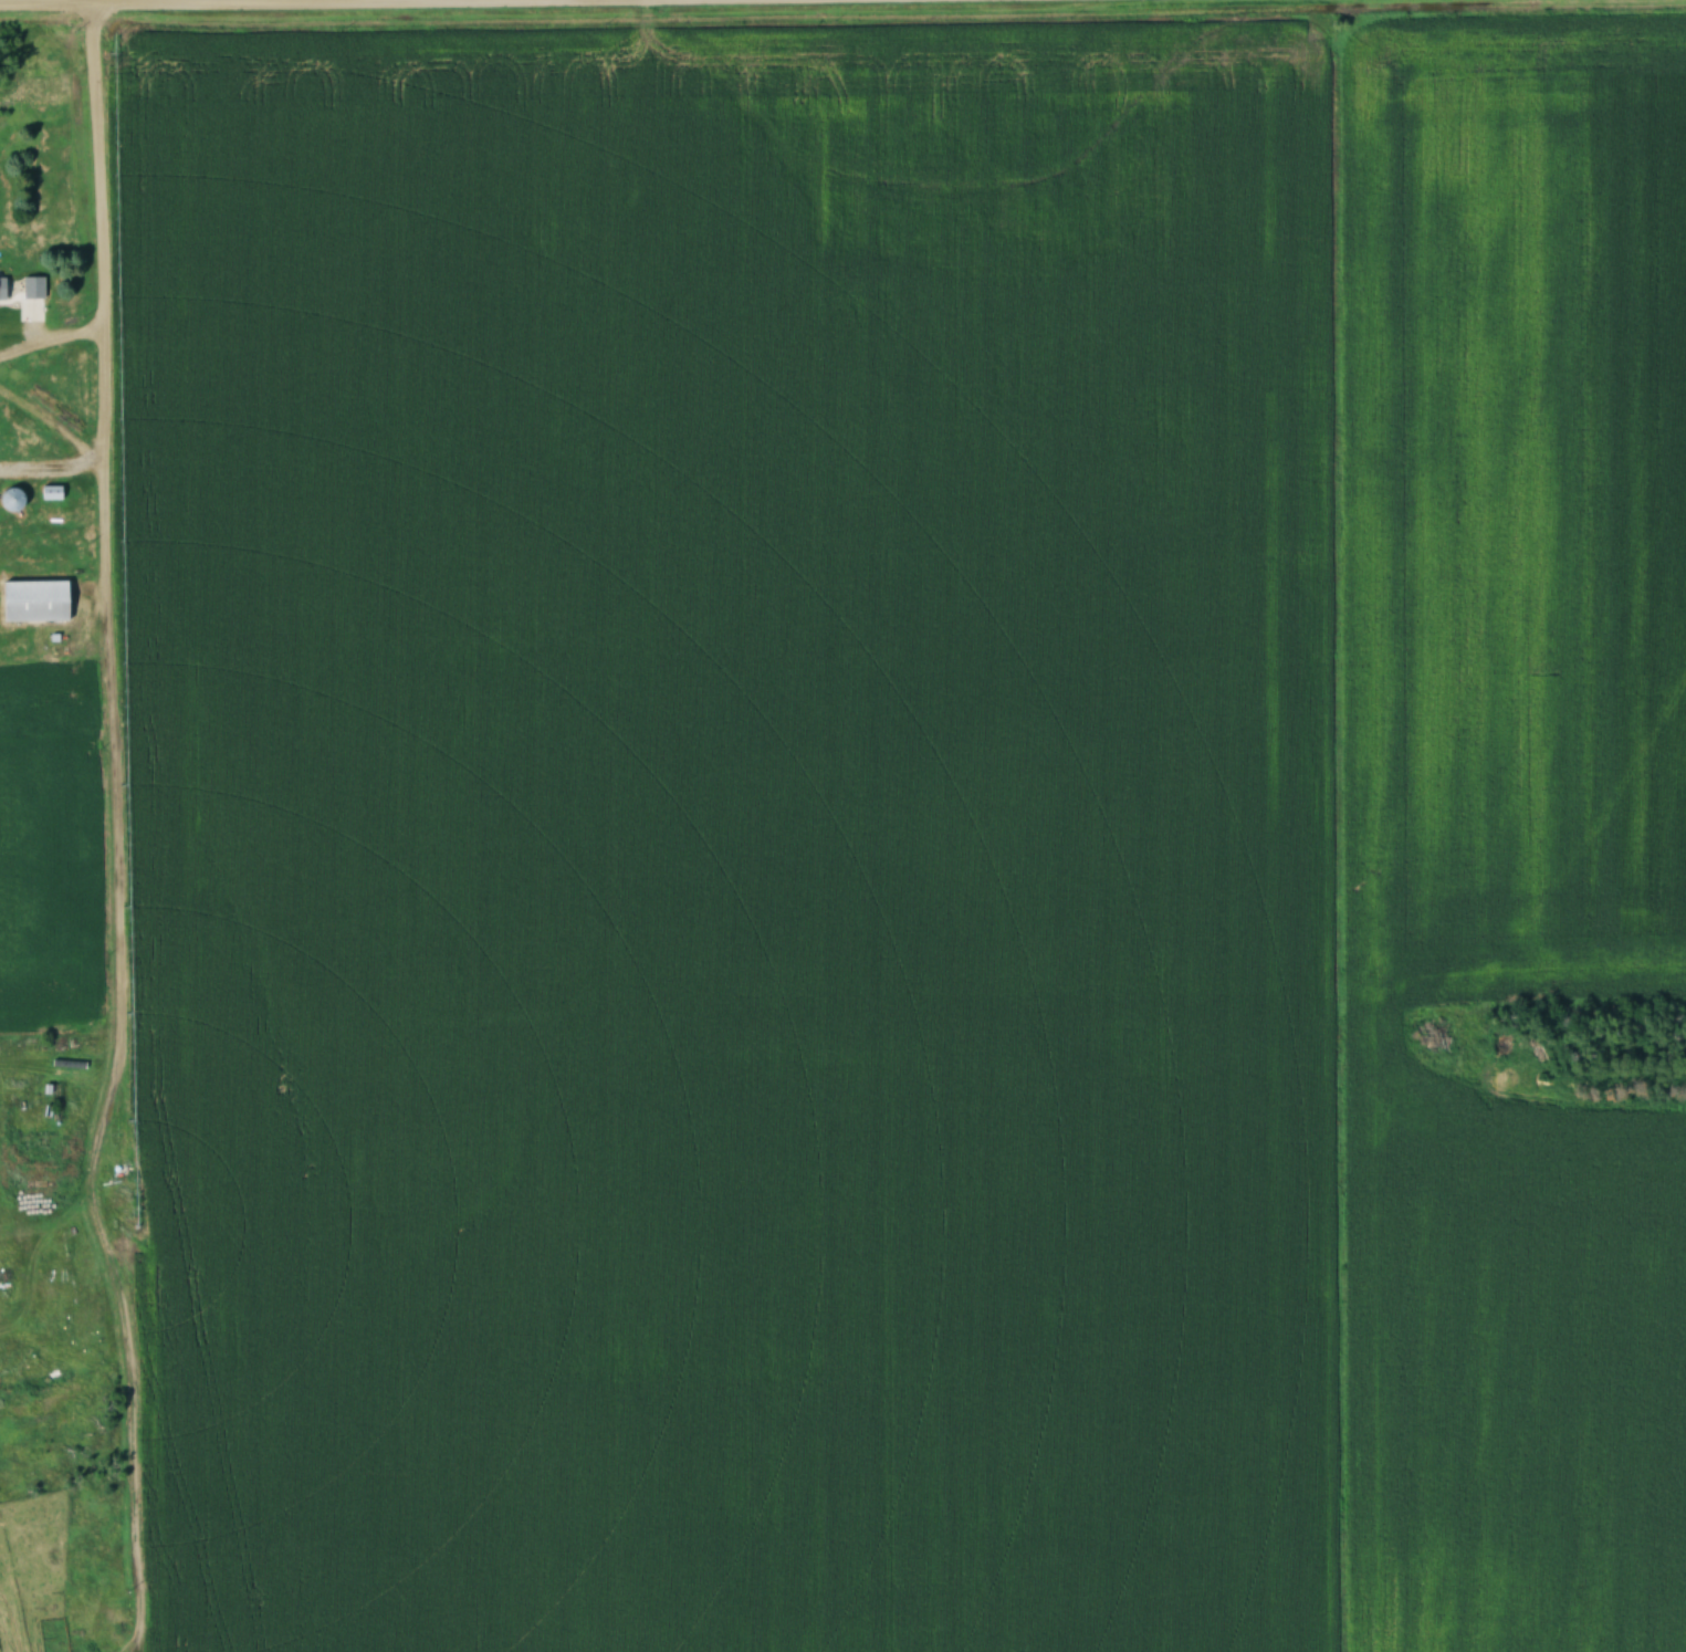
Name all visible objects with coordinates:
road: (140, 1)
road: (102, 237)
building: (1, 287)
road: (52, 327)
building: (49, 491)
building: (9, 498)
building: (33, 599)
road: (111, 767)
road: (148, 1424)

